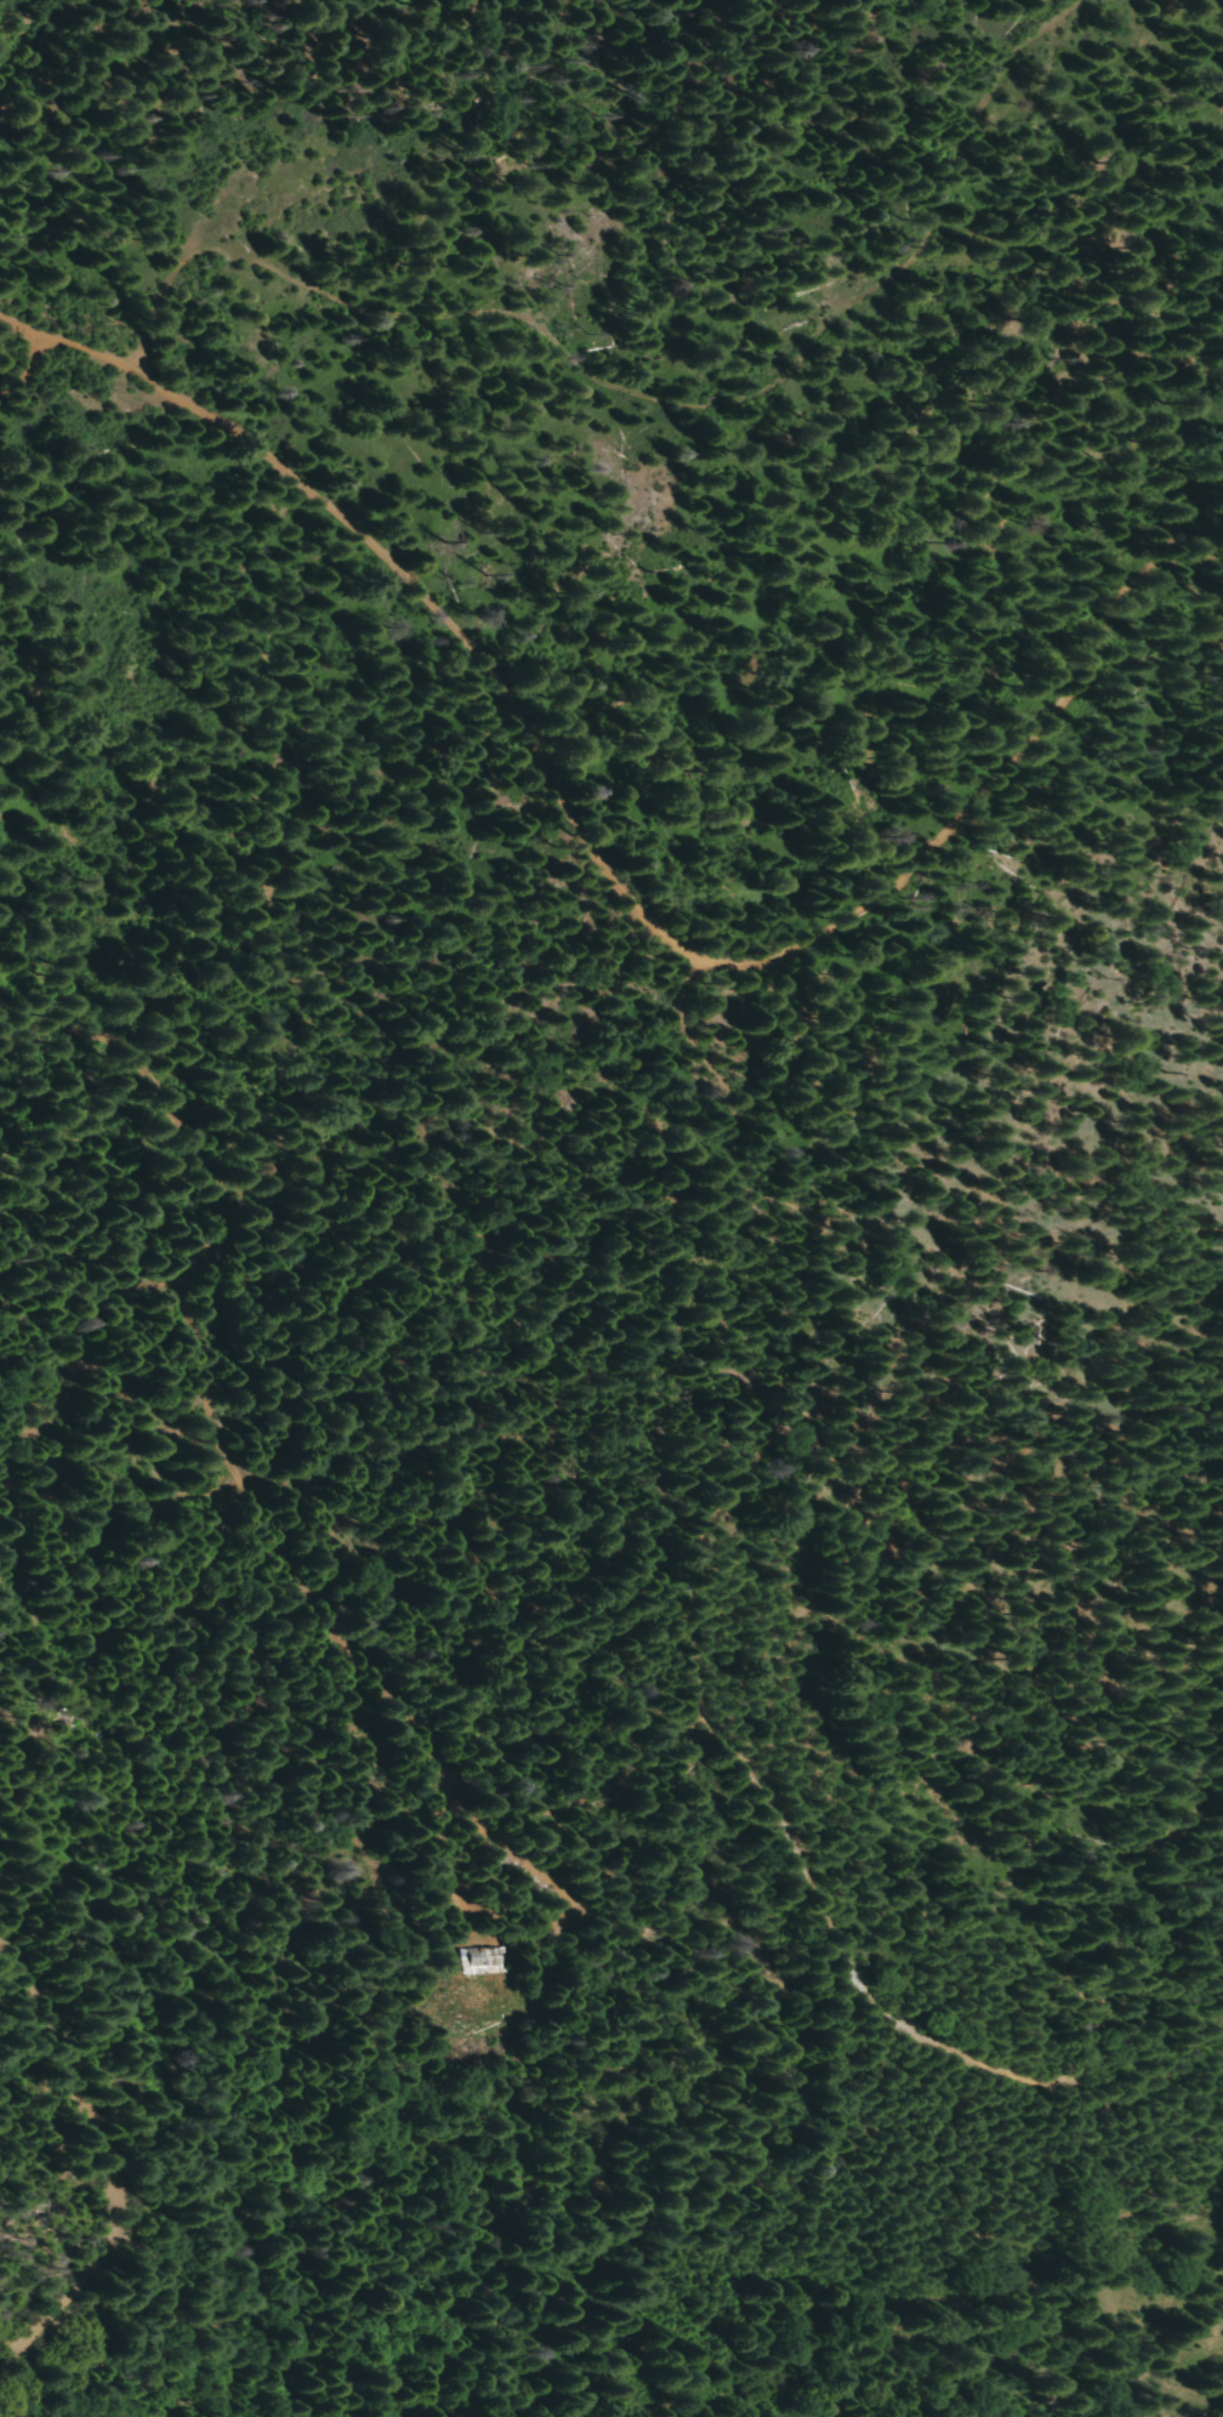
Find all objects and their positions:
road: (650, 642)
crop: (753, 1398)

